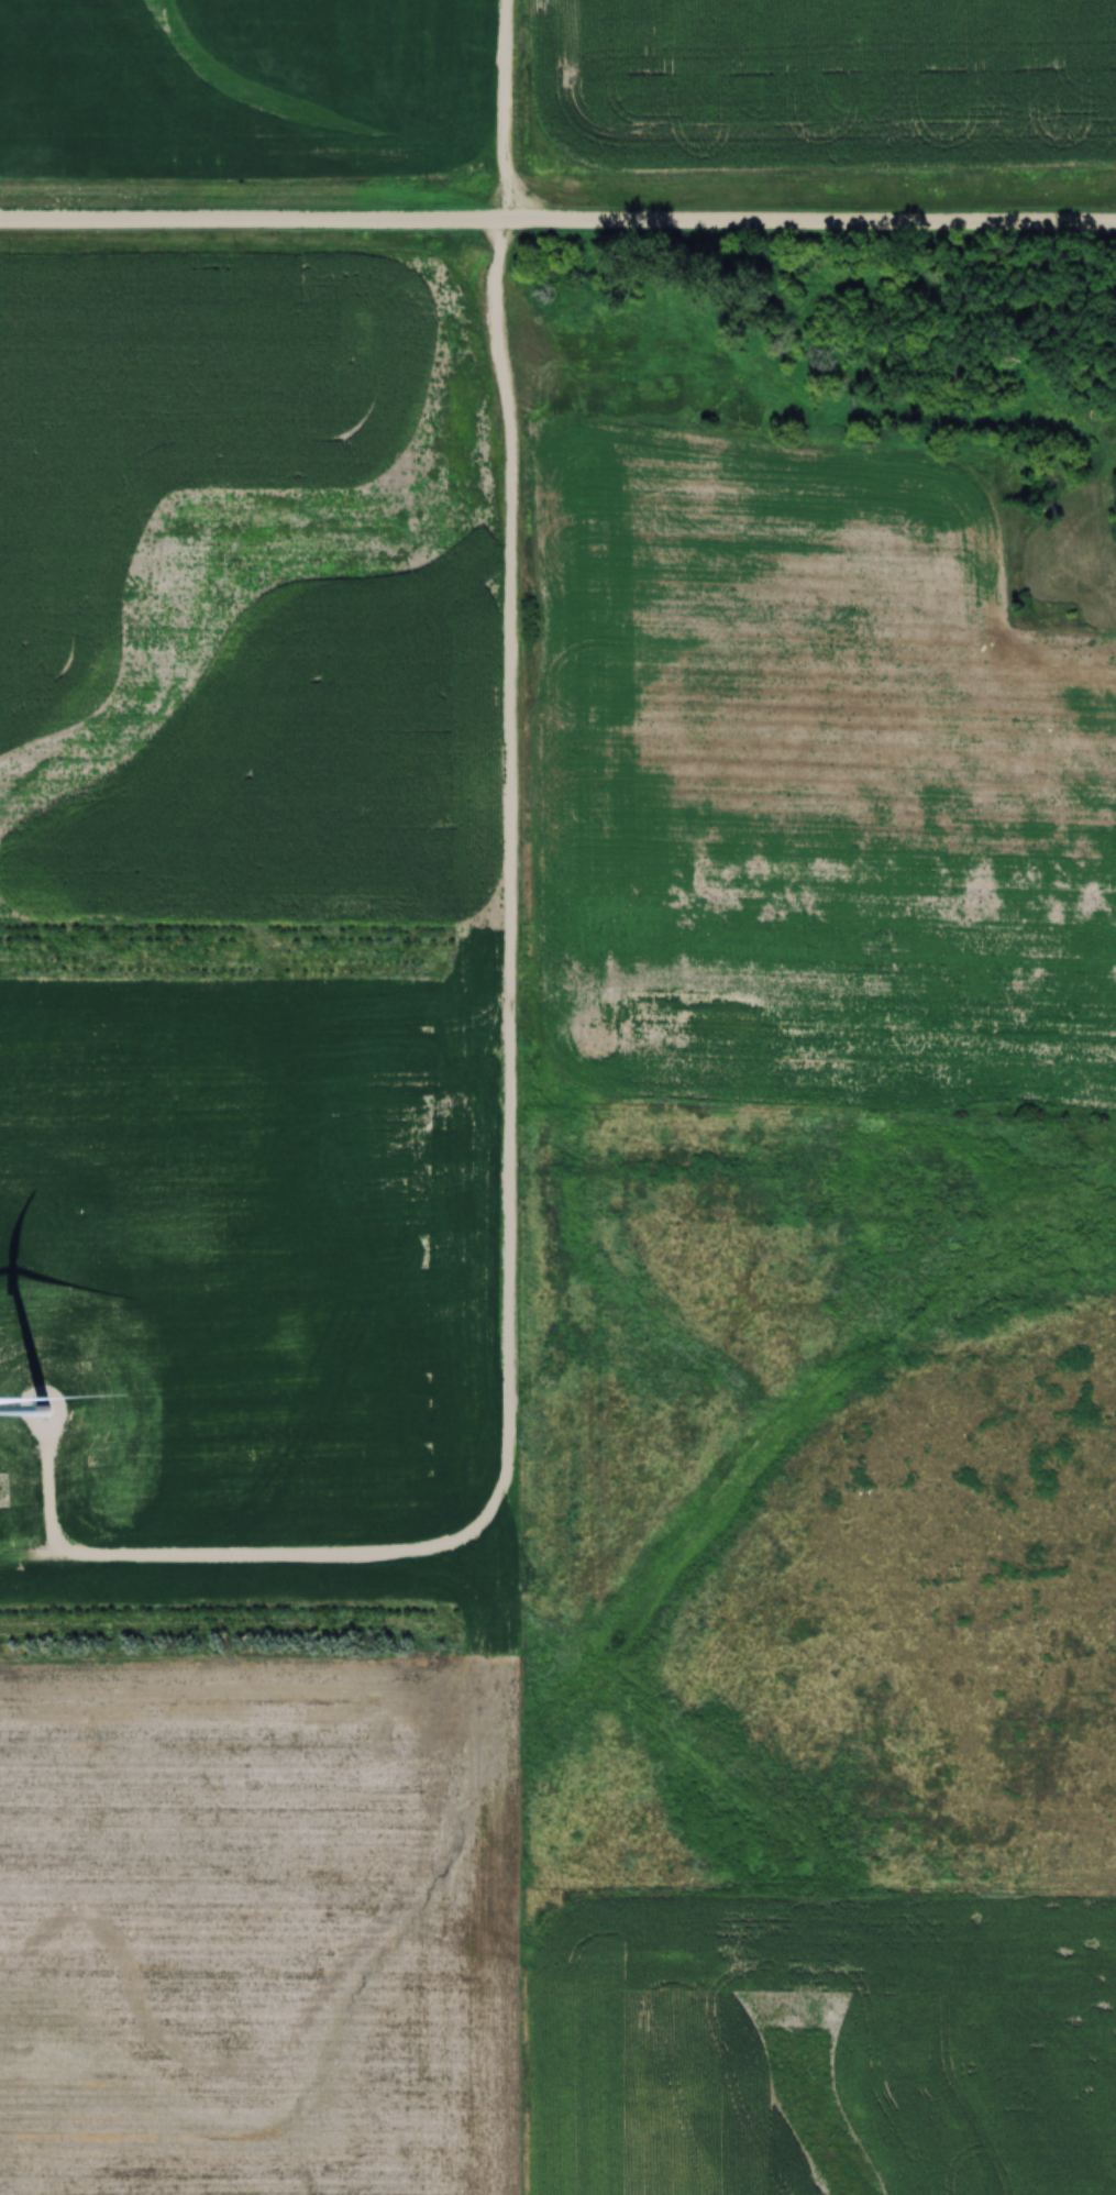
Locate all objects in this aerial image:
road: (496, 108)
road: (557, 216)
road: (507, 1138)
wind turbine: (48, 1415)

